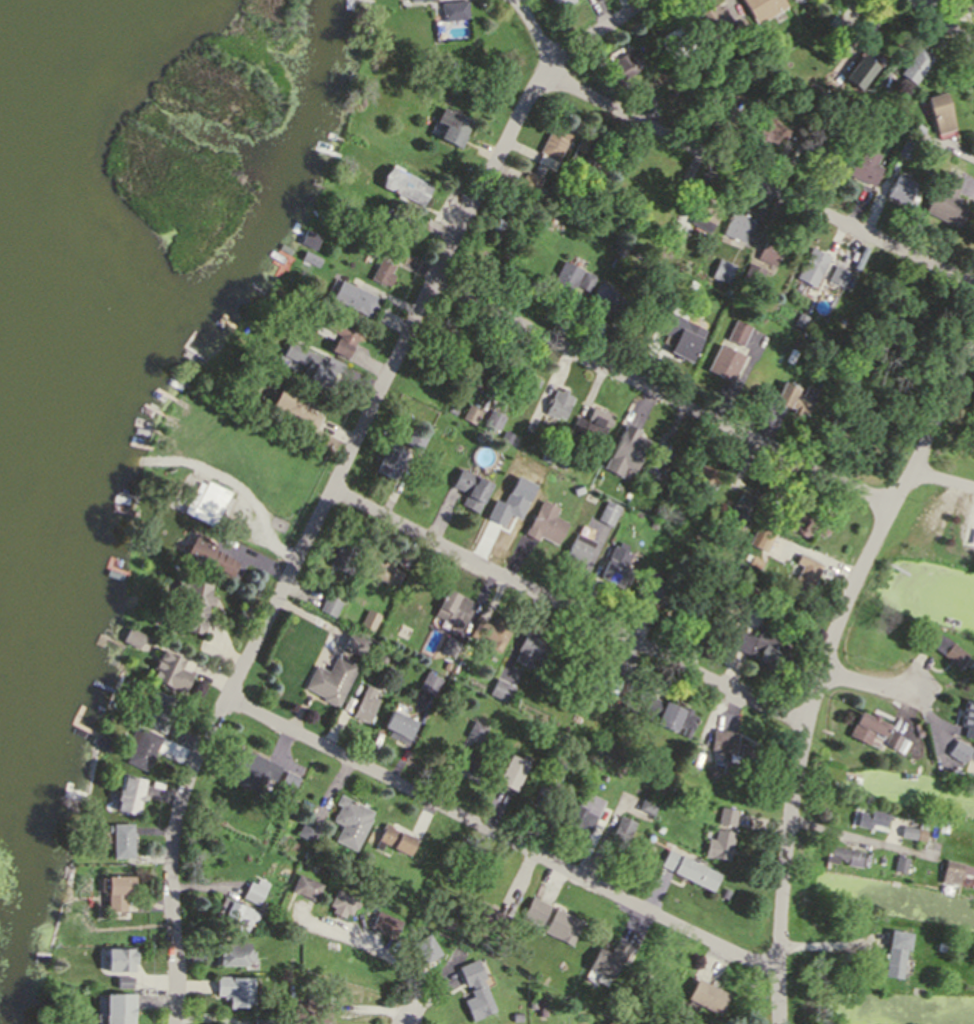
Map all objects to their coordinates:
building: (410, 0)
building: (560, 2)
building: (762, 8)
building: (453, 10)
building: (709, 18)
road: (948, 21)
building: (838, 25)
building: (739, 28)
building: (782, 35)
building: (677, 42)
building: (623, 61)
building: (914, 64)
building: (759, 73)
building: (865, 76)
building: (821, 94)
building: (831, 100)
building: (715, 103)
building: (938, 112)
building: (452, 120)
building: (766, 126)
building: (917, 128)
building: (550, 146)
building: (904, 147)
building: (587, 151)
building: (819, 151)
road: (720, 165)
building: (860, 165)
building: (530, 183)
building: (406, 185)
building: (898, 188)
building: (663, 198)
building: (945, 199)
building: (705, 214)
building: (394, 224)
building: (736, 226)
building: (509, 231)
building: (674, 238)
building: (317, 241)
building: (769, 248)
building: (310, 257)
building: (811, 267)
building: (721, 270)
building: (752, 273)
building: (388, 275)
building: (837, 275)
building: (563, 279)
building: (584, 280)
building: (354, 299)
building: (600, 299)
building: (798, 319)
building: (736, 331)
building: (338, 338)
building: (685, 340)
building: (822, 351)
building: (788, 354)
building: (723, 362)
building: (316, 368)
building: (474, 374)
building: (531, 388)
road: (661, 396)
building: (790, 398)
building: (557, 403)
building: (293, 405)
building: (451, 409)
building: (469, 413)
building: (496, 423)
building: (589, 424)
building: (414, 439)
building: (628, 454)
building: (389, 459)
building: (660, 463)
building: (705, 474)
road: (939, 479)
road: (342, 481)
building: (469, 488)
building: (575, 489)
building: (208, 503)
building: (513, 503)
building: (745, 503)
building: (606, 512)
building: (658, 514)
building: (543, 522)
building: (803, 525)
building: (696, 535)
building: (761, 536)
building: (707, 537)
building: (577, 550)
building: (345, 553)
building: (210, 555)
road: (589, 562)
building: (615, 566)
building: (758, 568)
building: (385, 572)
building: (808, 576)
building: (741, 583)
building: (655, 591)
building: (193, 602)
building: (327, 605)
building: (452, 607)
road: (570, 608)
building: (647, 615)
building: (688, 620)
building: (368, 622)
building: (490, 631)
building: (138, 637)
building: (357, 645)
building: (448, 645)
building: (762, 647)
building: (530, 648)
building: (947, 650)
road: (830, 655)
building: (380, 656)
building: (445, 665)
building: (965, 667)
building: (171, 671)
building: (333, 681)
building: (597, 681)
building: (428, 683)
road: (868, 683)
building: (499, 689)
building: (364, 703)
building: (161, 706)
building: (580, 706)
building: (668, 715)
building: (968, 719)
building: (163, 723)
building: (397, 723)
building: (865, 729)
building: (474, 731)
building: (918, 733)
building: (721, 740)
building: (892, 742)
building: (101, 743)
building: (140, 747)
building: (957, 751)
building: (740, 761)
building: (467, 763)
building: (554, 766)
building: (250, 768)
building: (709, 770)
building: (513, 775)
building: (597, 777)
building: (287, 781)
building: (128, 794)
building: (539, 798)
building: (645, 806)
building: (587, 814)
building: (724, 817)
building: (870, 817)
building: (349, 822)
building: (944, 823)
building: (307, 827)
building: (908, 831)
building: (620, 832)
building: (921, 833)
road: (502, 836)
building: (121, 839)
building: (395, 839)
road: (859, 840)
building: (717, 844)
building: (416, 850)
building: (842, 855)
building: (901, 863)
building: (365, 869)
building: (687, 869)
building: (954, 871)
building: (303, 887)
building: (117, 890)
building: (251, 892)
building: (722, 893)
building: (342, 902)
building: (533, 910)
building: (232, 915)
building: (490, 918)
building: (384, 923)
building: (562, 923)
building: (470, 936)
building: (941, 946)
building: (423, 947)
building: (231, 952)
building: (895, 952)
road: (378, 953)
building: (120, 958)
building: (609, 958)
building: (123, 981)
building: (234, 989)
building: (473, 990)
building: (706, 996)
building: (530, 1003)
building: (540, 1007)
building: (118, 1008)
building: (311, 1012)
building: (515, 1016)
building: (261, 1020)

